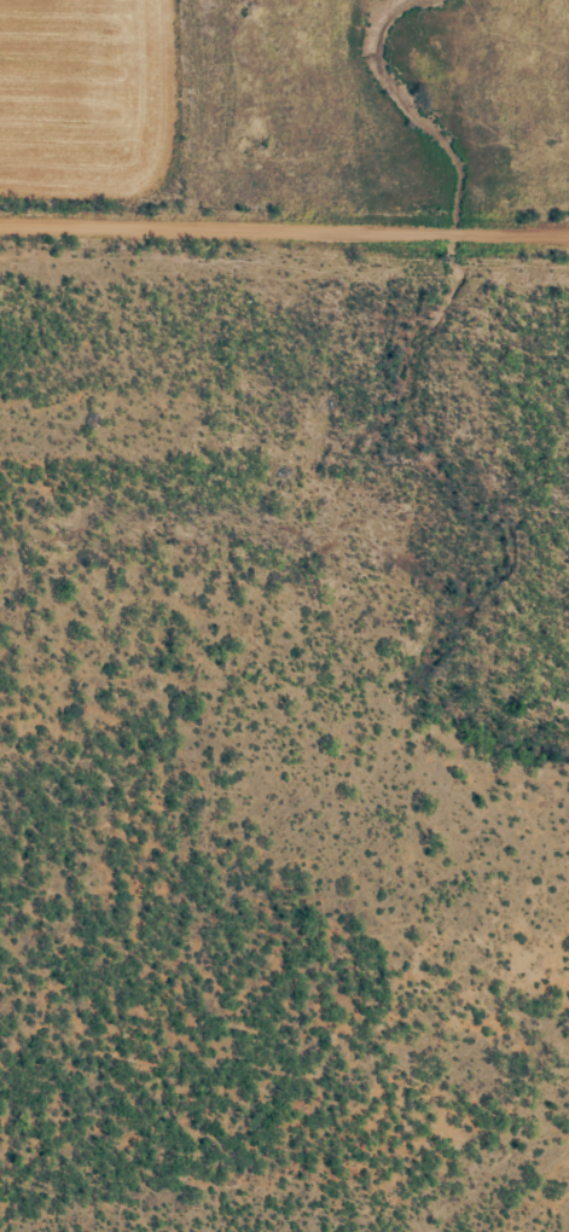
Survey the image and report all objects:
road: (284, 216)

